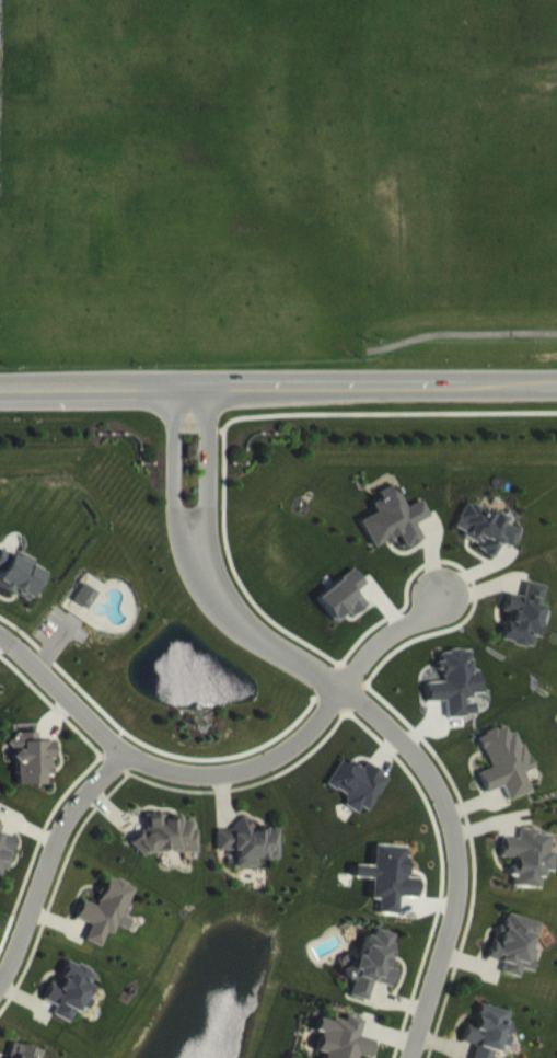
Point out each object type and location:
road: (462, 331)
road: (278, 383)
road: (369, 411)
building: (192, 467)
building: (394, 533)
building: (485, 543)
road: (232, 568)
building: (19, 589)
building: (86, 610)
building: (344, 610)
building: (522, 629)
building: (454, 698)
road: (361, 700)
building: (30, 772)
road: (233, 772)
building: (503, 777)
building: (358, 797)
building: (0, 839)
building: (165, 850)
building: (248, 858)
road: (49, 859)
building: (5, 864)
building: (527, 871)
building: (388, 892)
building: (105, 924)
building: (513, 958)
building: (370, 978)
building: (70, 1005)
building: (487, 1040)
building: (341, 1045)
building: (11, 1057)

